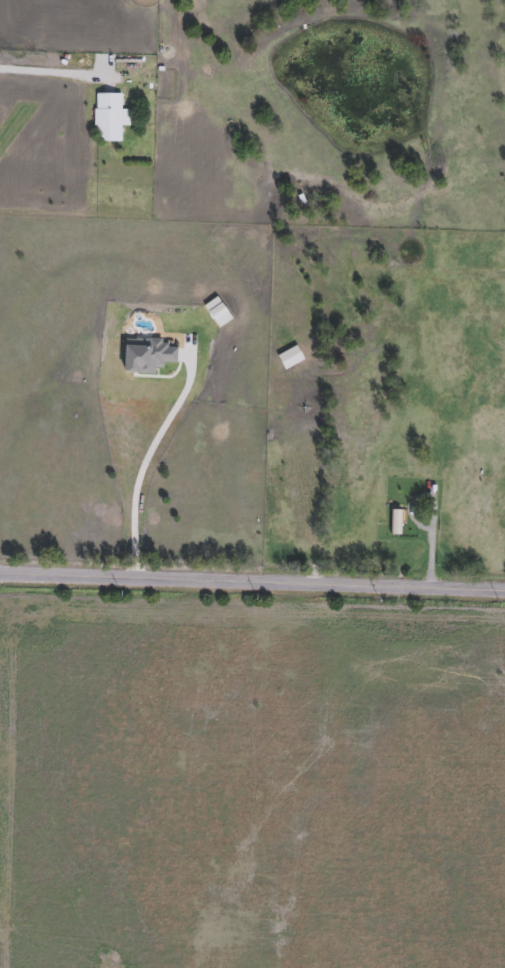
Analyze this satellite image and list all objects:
road: (56, 73)
building: (108, 117)
road: (145, 458)
building: (251, 478)
road: (252, 578)

